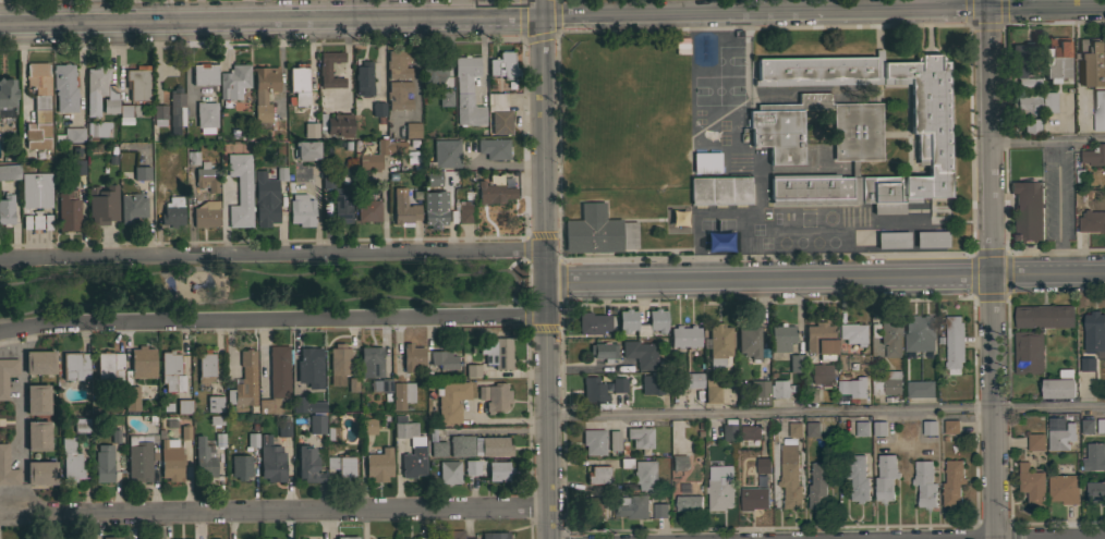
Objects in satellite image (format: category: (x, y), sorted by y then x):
road: (539, 8)
road: (353, 9)
road: (246, 10)
road: (29, 12)
road: (552, 15)
building: (1055, 59)
building: (1089, 60)
road: (187, 63)
building: (398, 64)
building: (1023, 64)
road: (414, 65)
building: (503, 65)
building: (434, 68)
building: (329, 69)
building: (167, 73)
building: (204, 74)
building: (363, 78)
building: (233, 81)
building: (137, 83)
building: (299, 85)
building: (511, 86)
building: (64, 87)
building: (101, 87)
building: (264, 90)
building: (466, 90)
building: (398, 95)
building: (7, 97)
building: (445, 98)
building: (1047, 101)
building: (1025, 103)
building: (38, 106)
building: (177, 107)
building: (377, 108)
building: (928, 109)
building: (129, 110)
building: (206, 110)
building: (1098, 110)
building: (499, 113)
building: (158, 114)
building: (294, 122)
building: (339, 124)
building: (1031, 127)
building: (98, 130)
building: (412, 130)
building: (307, 131)
building: (71, 135)
road: (1047, 140)
building: (494, 148)
building: (306, 149)
building: (857, 152)
building: (446, 154)
building: (376, 155)
building: (1094, 156)
building: (192, 158)
building: (124, 162)
building: (705, 162)
building: (347, 164)
building: (77, 167)
building: (280, 170)
building: (9, 172)
building: (142, 173)
building: (206, 177)
building: (1079, 179)
building: (327, 180)
building: (428, 180)
building: (489, 188)
building: (240, 189)
building: (719, 189)
building: (36, 191)
building: (159, 192)
building: (265, 200)
building: (102, 205)
building: (341, 205)
building: (132, 207)
building: (5, 208)
building: (403, 208)
building: (301, 210)
building: (367, 210)
building: (1028, 210)
building: (68, 211)
building: (172, 211)
building: (439, 211)
building: (206, 215)
building: (464, 217)
building: (671, 219)
building: (36, 220)
building: (1092, 221)
building: (597, 231)
building: (1065, 232)
building: (861, 237)
building: (931, 238)
building: (891, 240)
road: (272, 253)
road: (991, 269)
road: (545, 278)
road: (825, 278)
park: (259, 289)
building: (627, 317)
road: (272, 318)
building: (1043, 318)
building: (592, 322)
building: (1094, 331)
building: (851, 332)
building: (919, 333)
building: (684, 335)
building: (781, 338)
building: (890, 338)
road: (11, 340)
building: (819, 340)
building: (749, 341)
building: (718, 343)
building: (954, 344)
building: (604, 351)
building: (1028, 352)
building: (497, 353)
building: (640, 353)
building: (412, 356)
building: (442, 359)
building: (38, 362)
building: (142, 362)
building: (371, 362)
building: (764, 362)
building: (796, 363)
building: (338, 364)
building: (1088, 364)
building: (73, 366)
building: (309, 366)
building: (110, 367)
building: (168, 369)
building: (205, 370)
building: (472, 370)
building: (7, 373)
building: (822, 375)
building: (276, 378)
building: (244, 380)
building: (688, 380)
building: (652, 382)
building: (353, 384)
building: (618, 384)
building: (888, 384)
building: (374, 387)
building: (853, 388)
building: (920, 389)
building: (1058, 389)
building: (593, 390)
building: (712, 390)
building: (778, 390)
building: (758, 393)
building: (401, 394)
building: (812, 394)
building: (494, 396)
building: (36, 399)
building: (131, 399)
building: (450, 401)
building: (214, 404)
building: (306, 405)
building: (183, 406)
road: (826, 412)
road: (21, 413)
building: (316, 424)
building: (81, 425)
building: (283, 426)
building: (368, 426)
building: (1100, 427)
building: (949, 428)
building: (1085, 428)
building: (728, 429)
building: (877, 429)
building: (926, 429)
building: (810, 430)
building: (860, 430)
building: (793, 431)
building: (332, 433)
building: (37, 436)
building: (748, 436)
building: (111, 437)
building: (639, 438)
building: (252, 439)
building: (612, 440)
building: (1059, 440)
building: (592, 442)
building: (1034, 443)
building: (461, 445)
building: (491, 445)
building: (416, 446)
building: (437, 449)
building: (139, 456)
building: (70, 458)
building: (204, 458)
building: (1092, 458)
building: (270, 460)
building: (170, 461)
building: (623, 463)
building: (678, 463)
building: (378, 464)
building: (307, 465)
building: (341, 465)
building: (763, 465)
building: (102, 466)
building: (240, 466)
building: (471, 467)
building: (7, 468)
building: (498, 470)
building: (448, 471)
building: (40, 473)
building: (598, 475)
building: (643, 475)
building: (788, 478)
building: (855, 479)
building: (884, 479)
building: (950, 485)
building: (923, 486)
building: (1030, 486)
building: (817, 487)
building: (627, 488)
building: (719, 488)
building: (1062, 490)
building: (1095, 492)
building: (752, 499)
building: (689, 503)
road: (275, 505)
building: (631, 506)
building: (595, 510)
building: (659, 511)
building: (451, 535)
building: (494, 535)
building: (111, 537)
building: (420, 537)
building: (274, 538)
building: (345, 538)
building: (380, 538)

